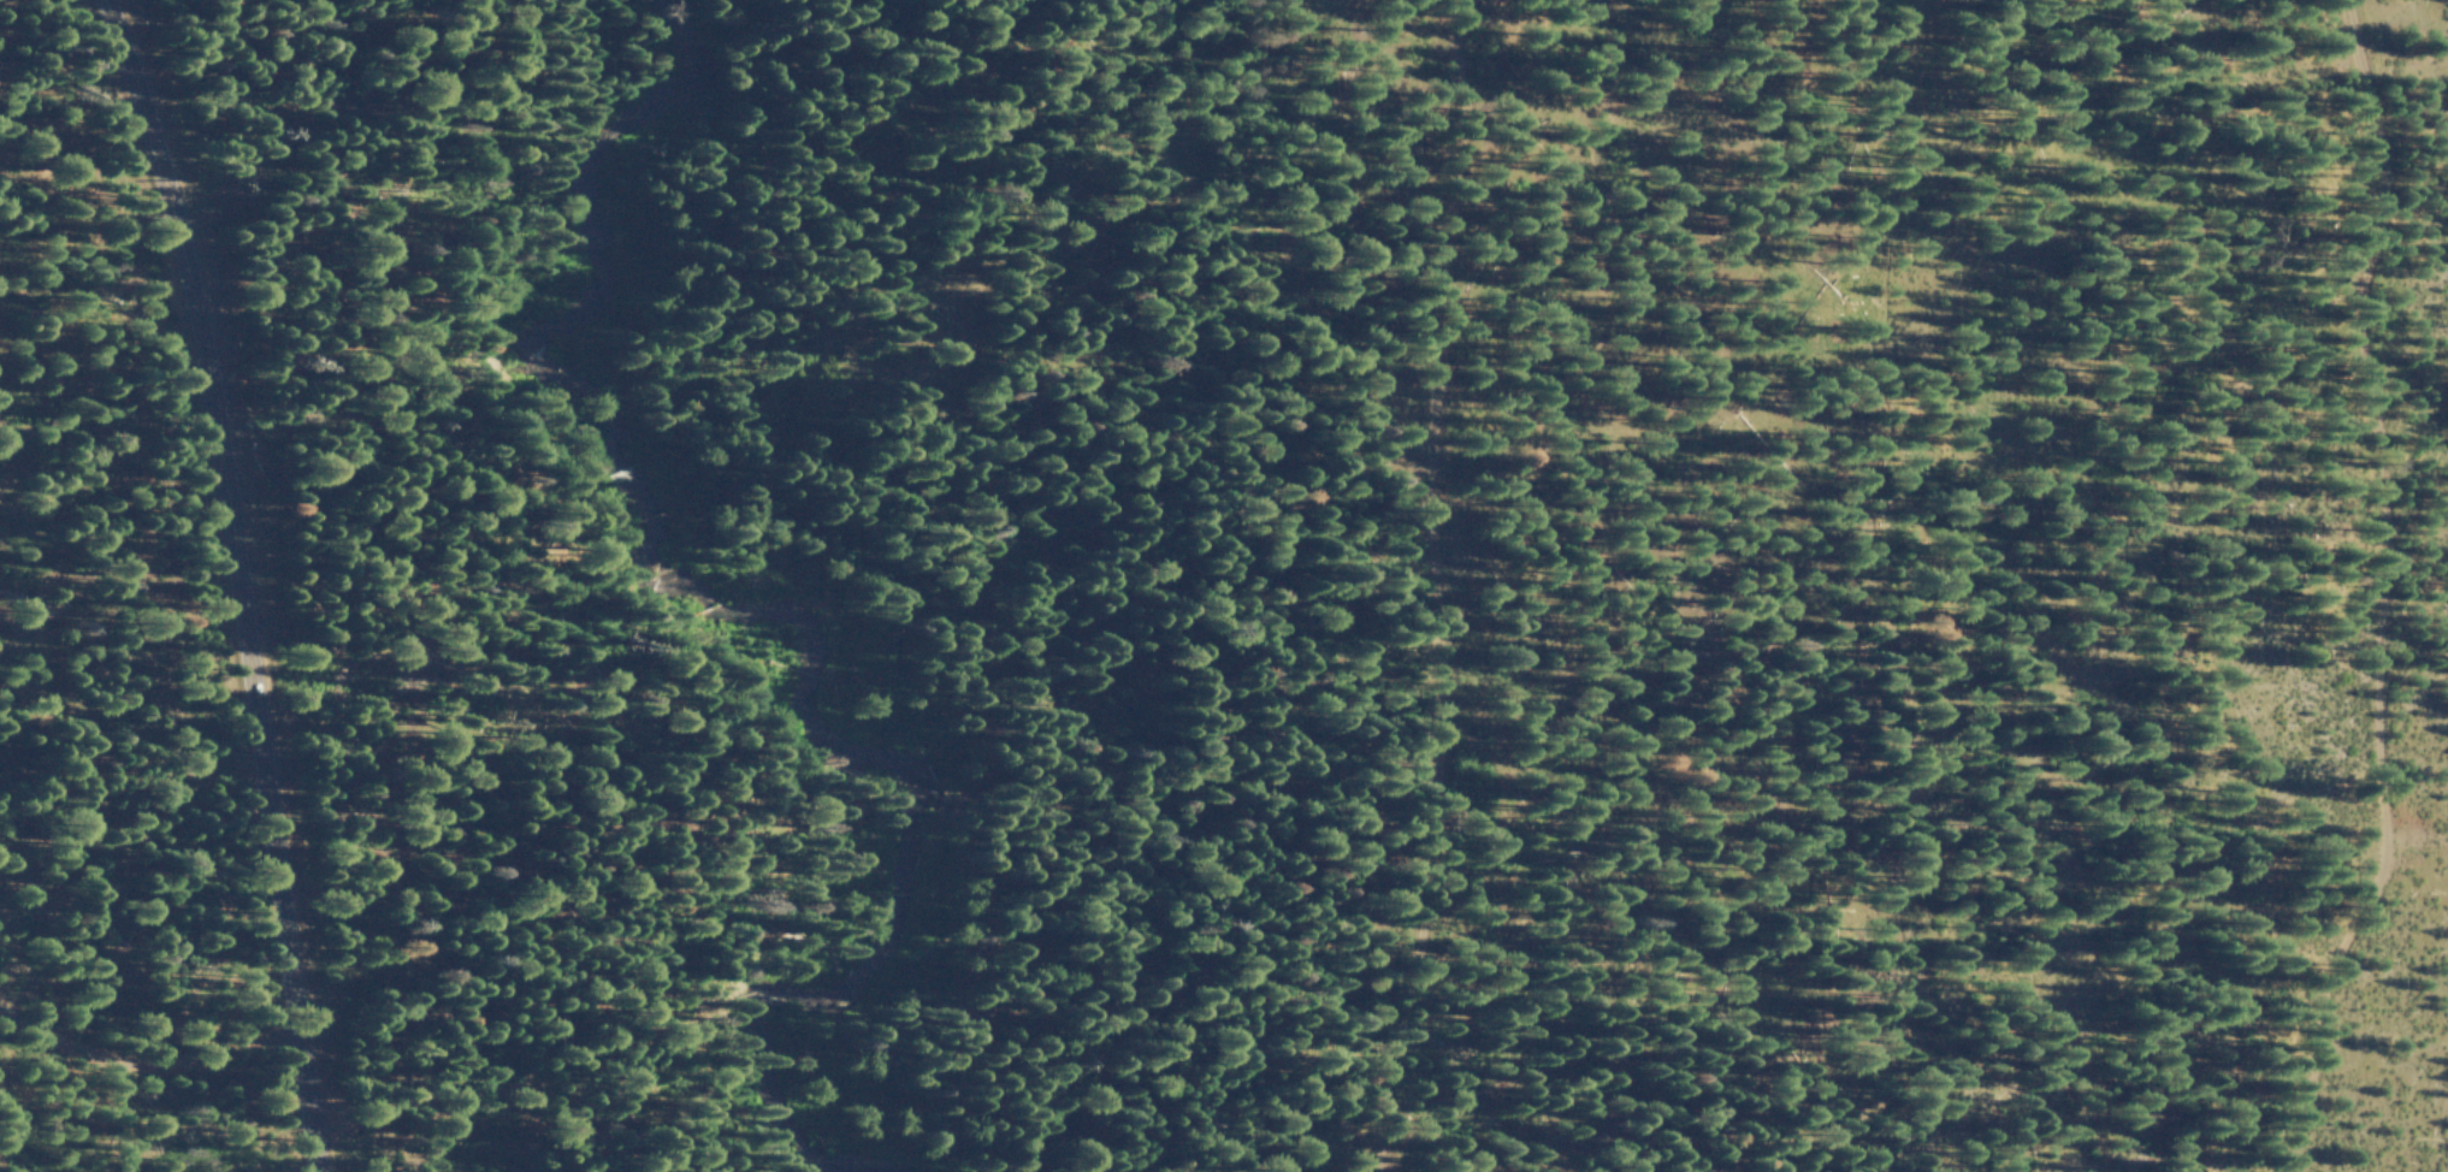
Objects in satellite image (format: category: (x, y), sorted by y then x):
road: (240, 579)

